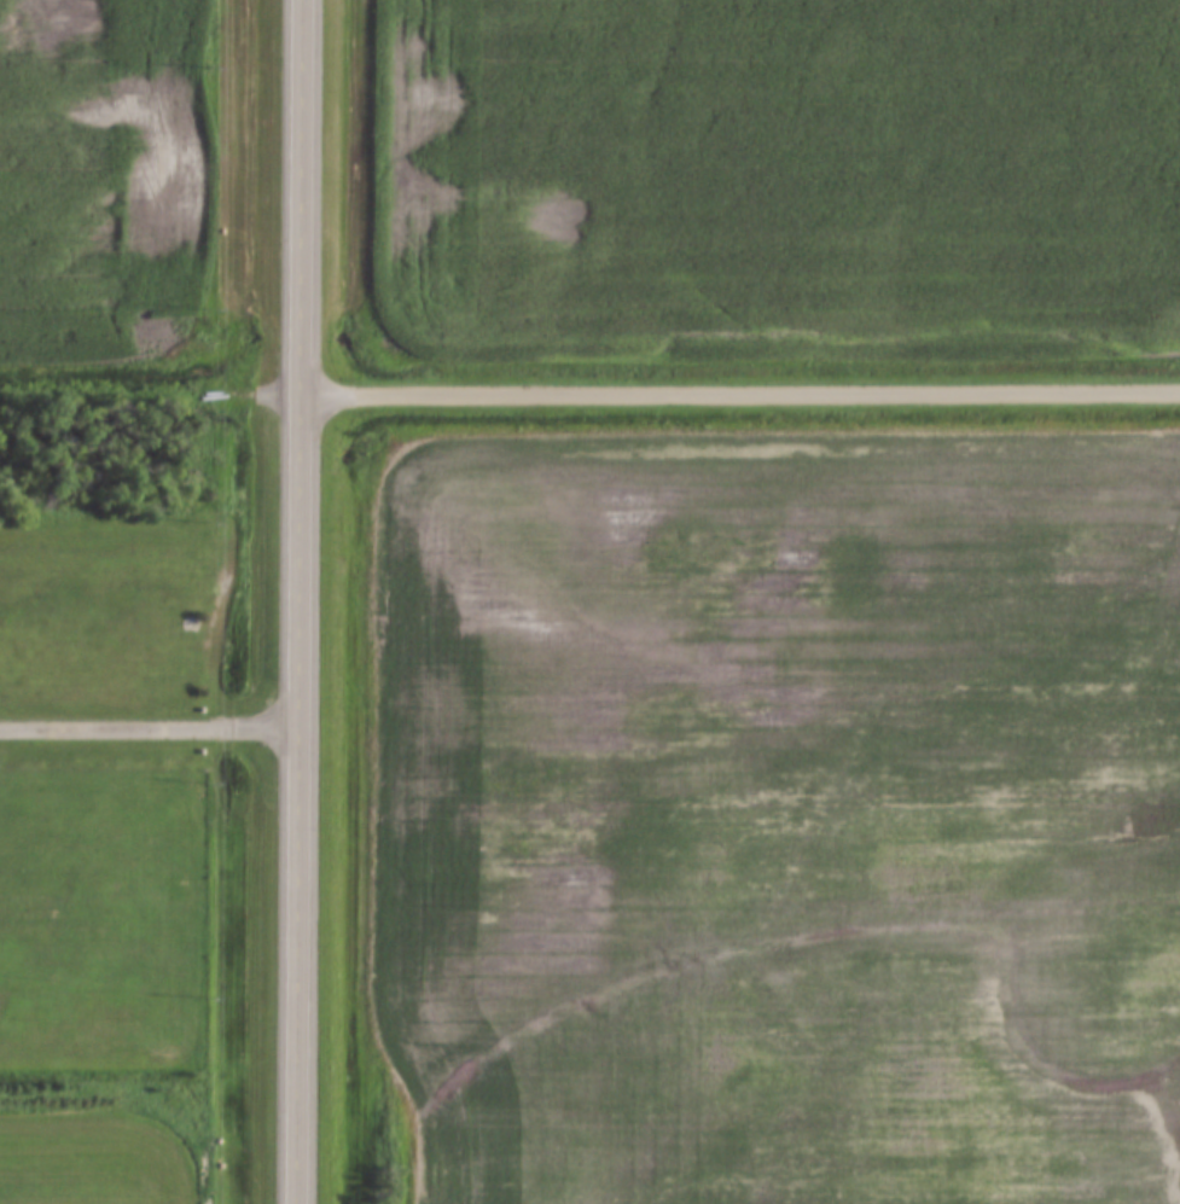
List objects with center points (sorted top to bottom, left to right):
road: (740, 399)
road: (301, 601)
road: (150, 732)

